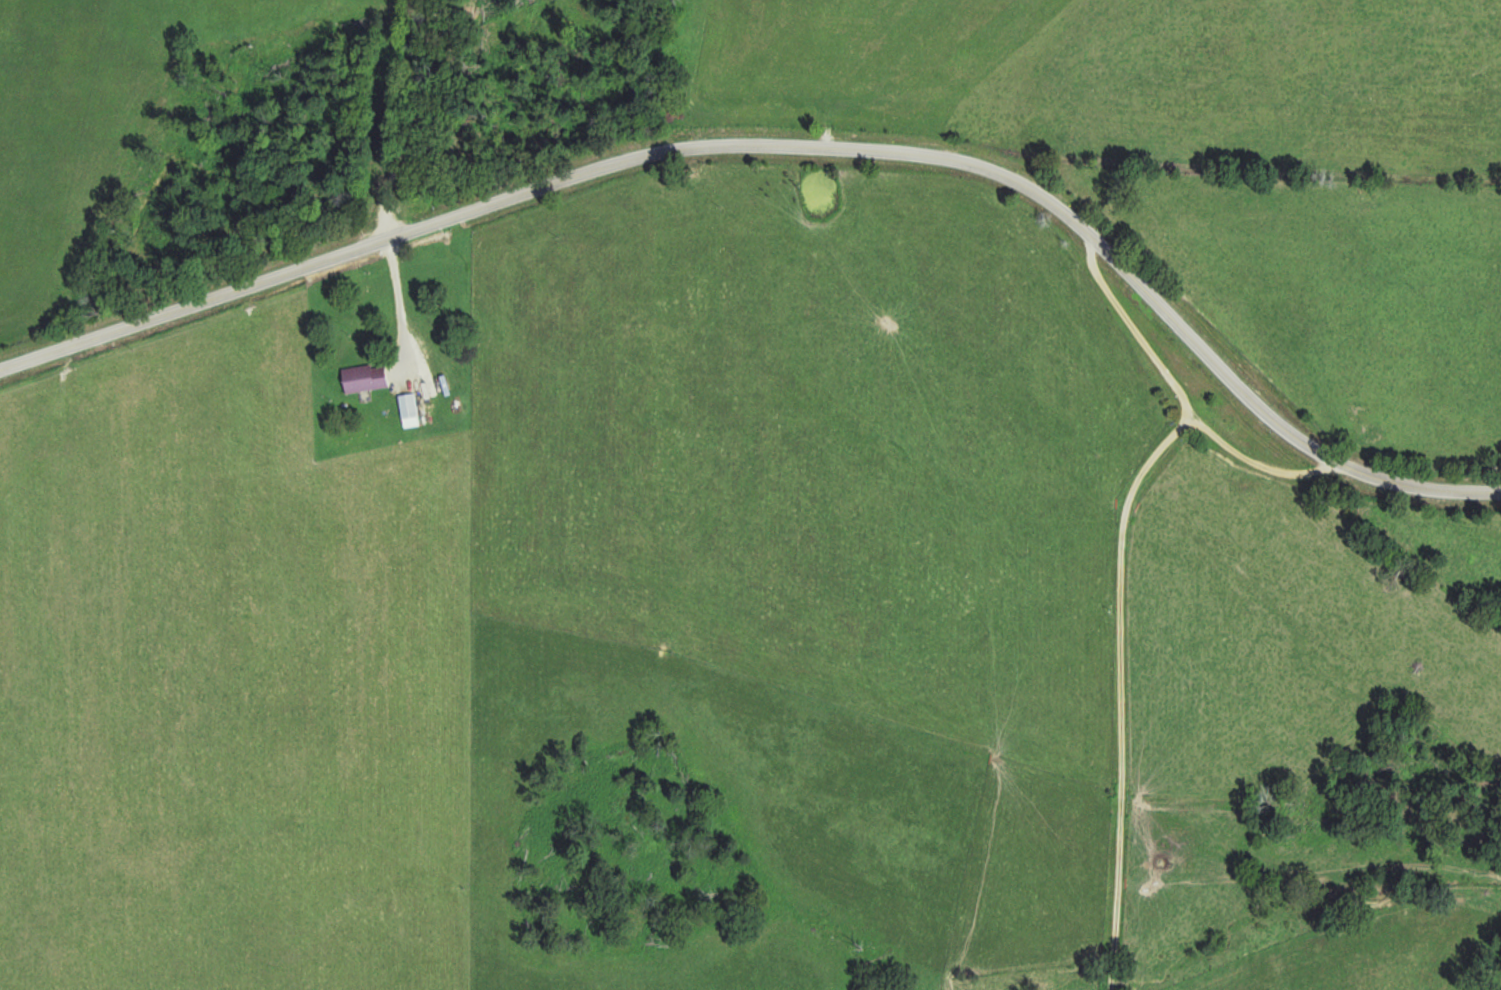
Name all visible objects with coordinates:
road: (401, 115)
road: (791, 144)
building: (368, 377)
road: (1179, 397)
building: (411, 409)
road: (1118, 688)

